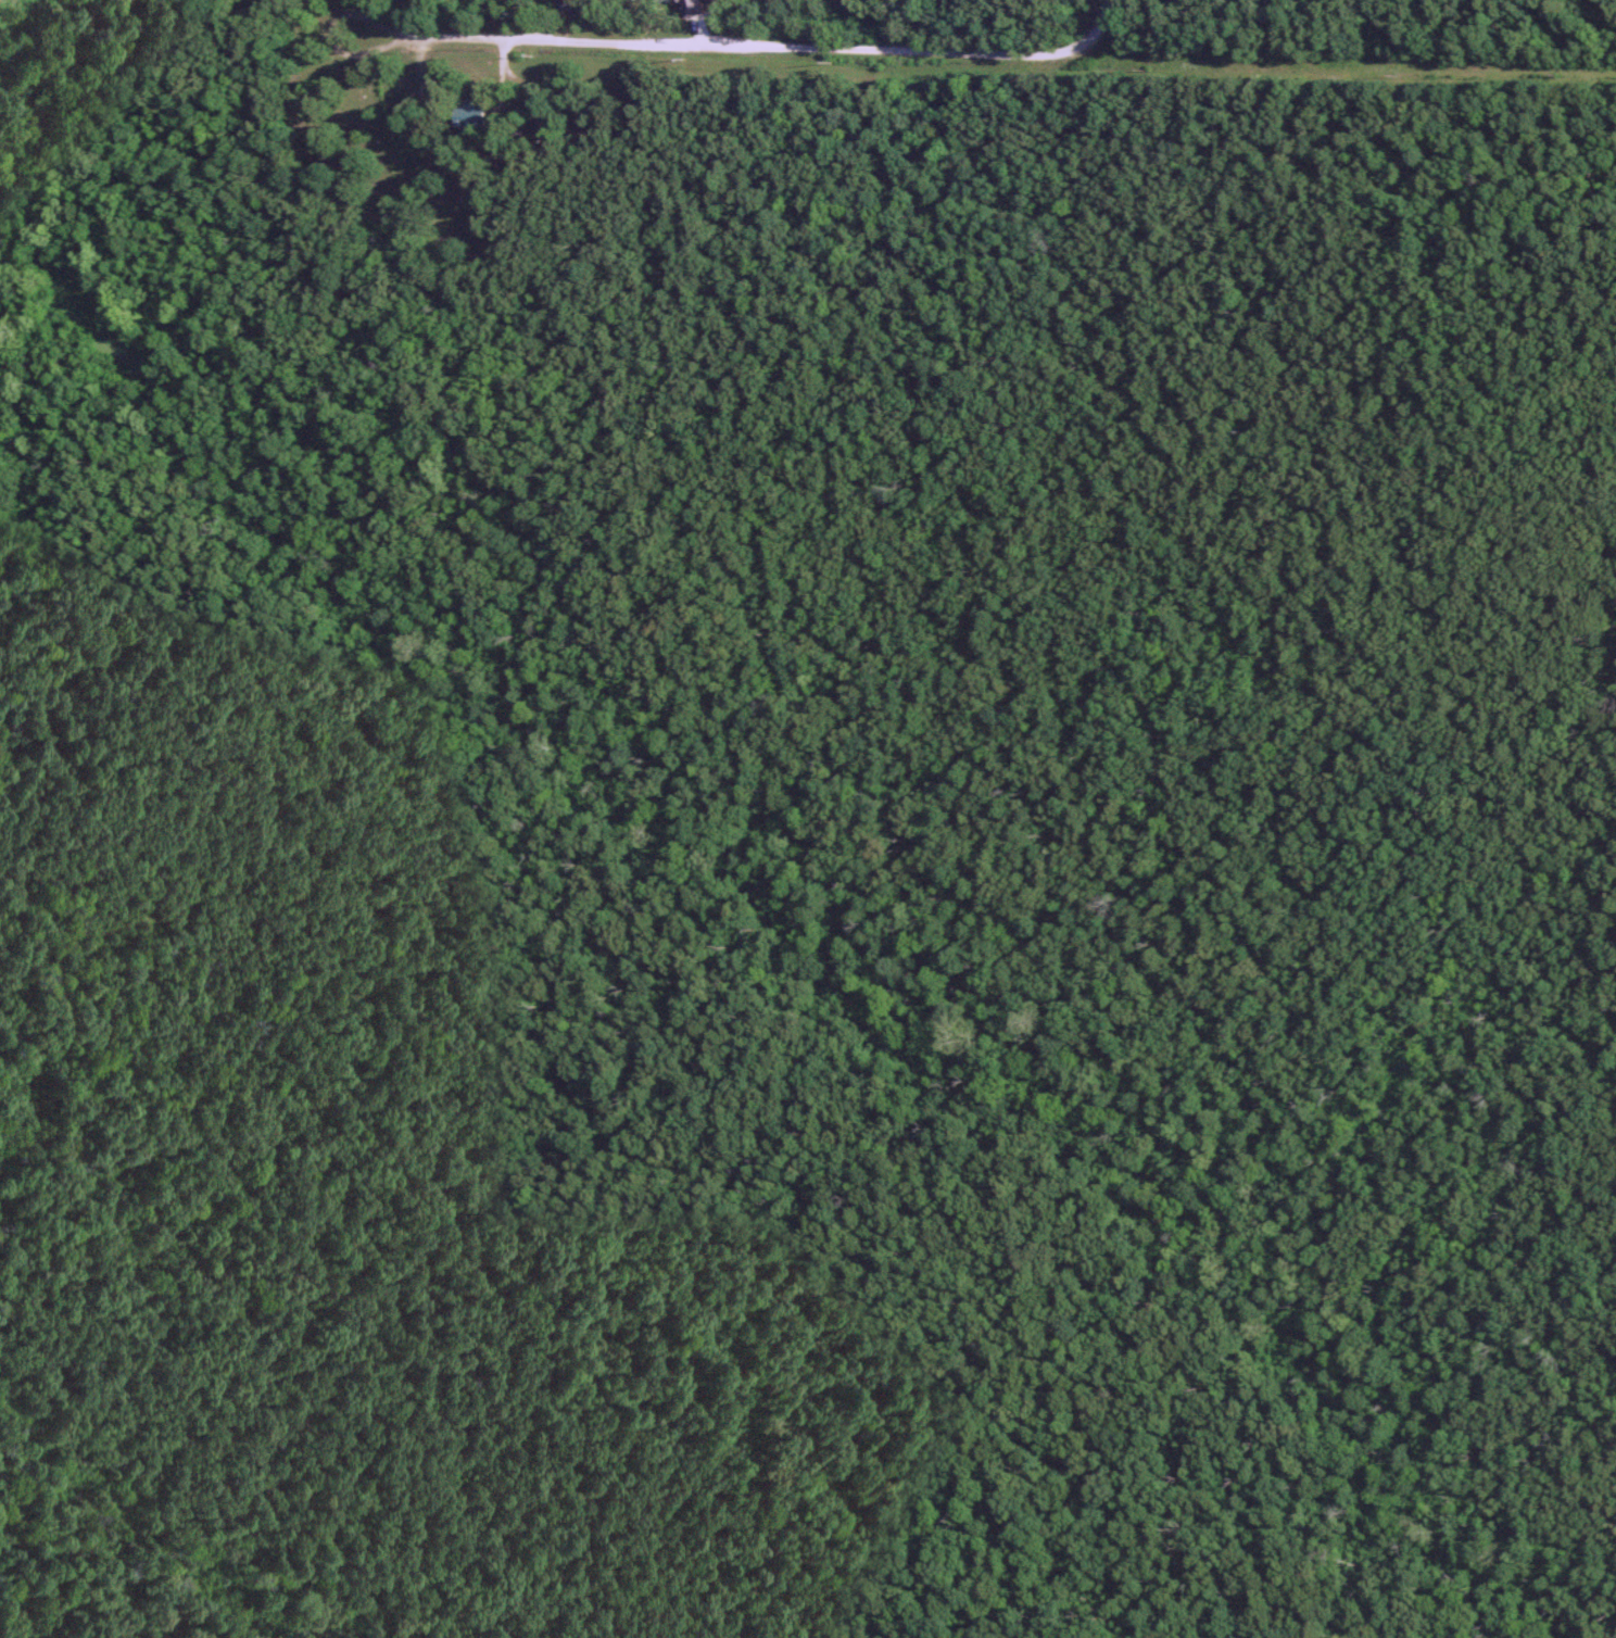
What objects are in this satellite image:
building: (572, 4)
road: (774, 47)
building: (543, 128)

